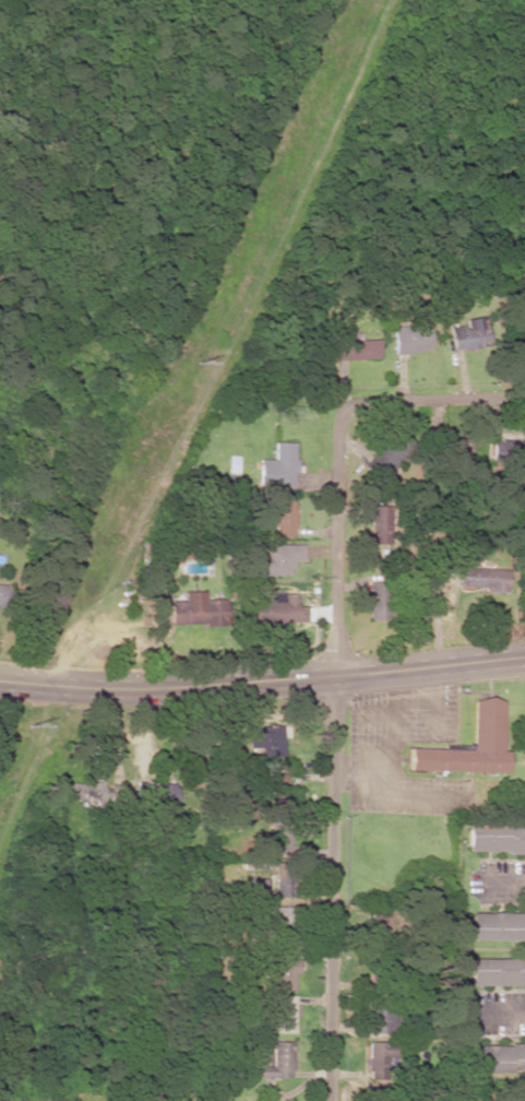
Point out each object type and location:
building: (470, 334)
building: (415, 341)
building: (354, 347)
power tower: (196, 364)
road: (432, 400)
building: (389, 454)
building: (277, 466)
building: (282, 518)
building: (378, 524)
road: (337, 540)
building: (278, 559)
building: (482, 579)
building: (3, 594)
building: (378, 601)
building: (278, 608)
building: (196, 611)
road: (262, 684)
building: (486, 723)
power tower: (27, 729)
building: (267, 741)
building: (281, 786)
building: (157, 793)
building: (105, 794)
building: (284, 834)
building: (496, 839)
building: (285, 884)
road: (331, 887)
building: (284, 923)
building: (492, 926)
building: (285, 969)
building: (492, 972)
building: (284, 1014)
building: (377, 1019)
building: (497, 1057)
building: (379, 1058)
building: (276, 1062)

